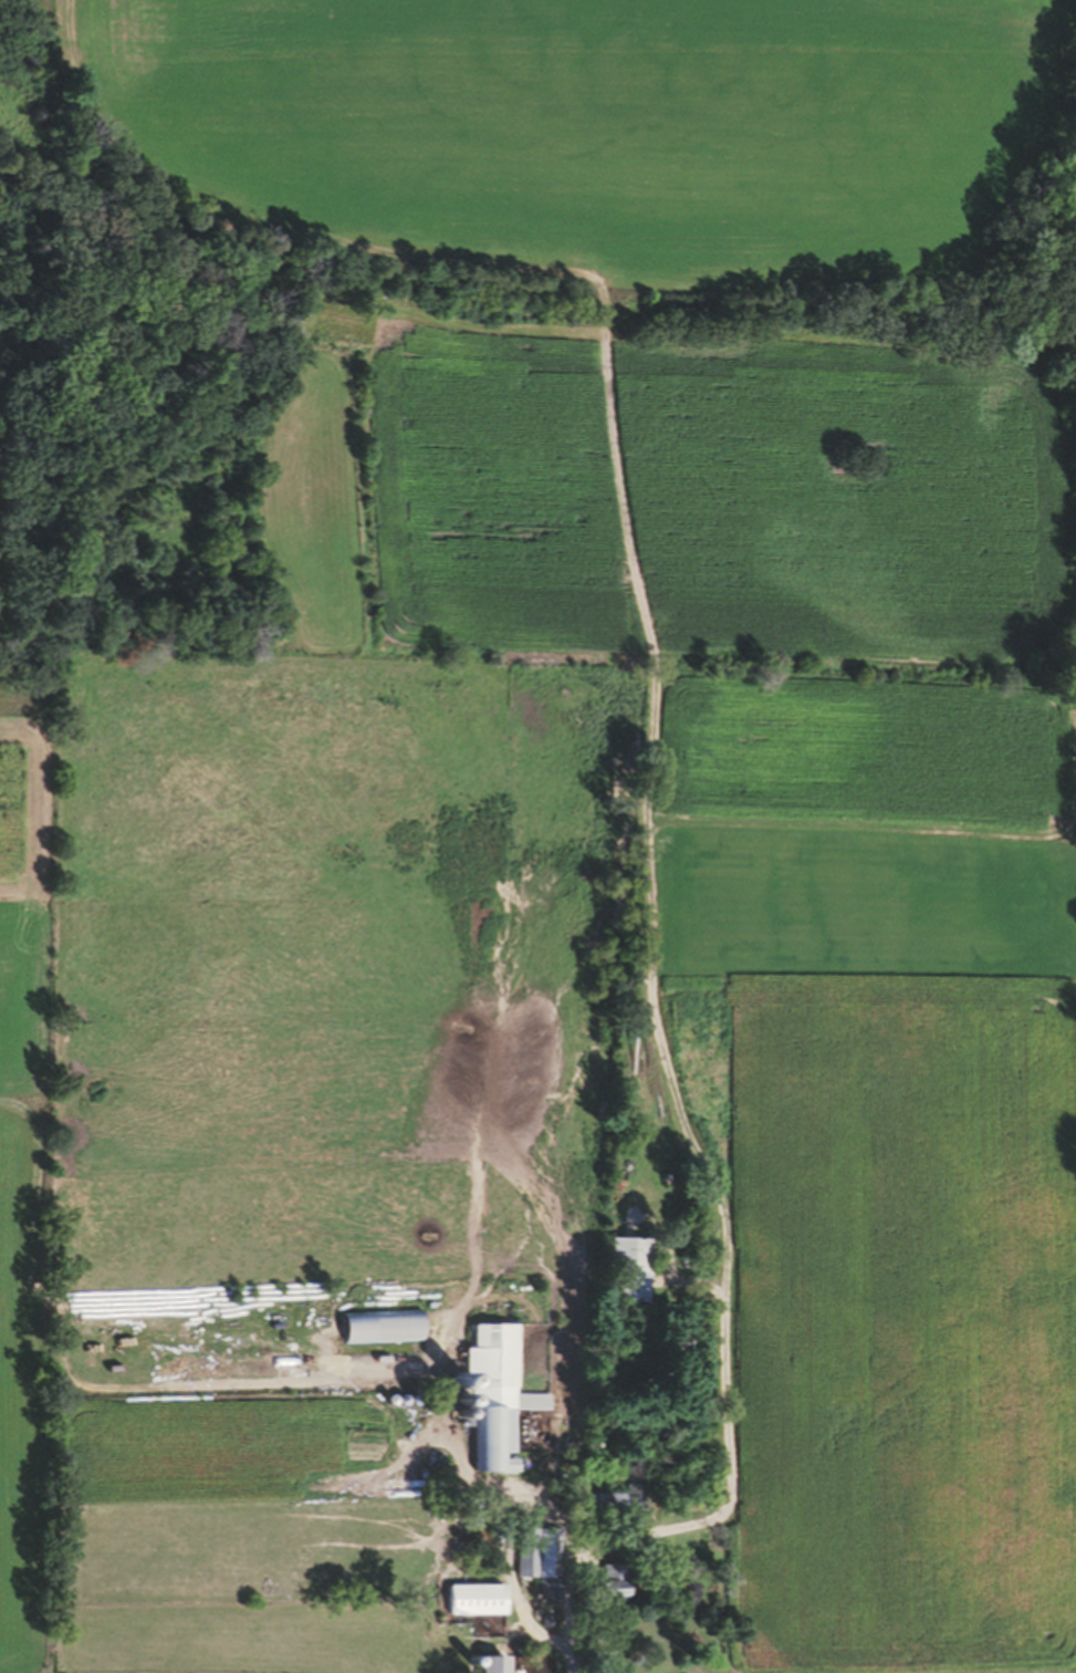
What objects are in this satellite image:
crop: (587, 806)
building: (628, 1260)
building: (488, 1404)
building: (531, 1410)
building: (542, 1565)
building: (521, 1570)
building: (608, 1589)
building: (474, 1609)
road: (573, 1648)
building: (491, 1669)

